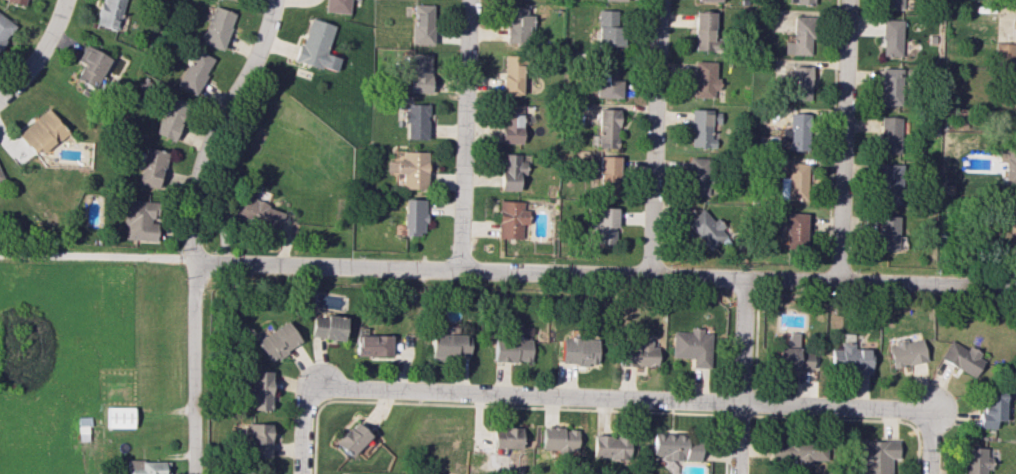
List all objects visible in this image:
building: (614, 0)
building: (708, 0)
building: (19, 1)
building: (801, 1)
building: (894, 4)
building: (337, 6)
building: (110, 13)
building: (422, 23)
building: (517, 24)
building: (218, 27)
building: (4, 28)
building: (604, 28)
building: (704, 30)
building: (800, 36)
building: (892, 37)
building: (317, 45)
building: (1005, 50)
road: (39, 53)
building: (91, 66)
building: (195, 71)
building: (420, 72)
building: (511, 74)
building: (606, 79)
building: (703, 79)
building: (800, 82)
building: (893, 86)
building: (170, 118)
building: (416, 120)
building: (510, 123)
building: (607, 127)
building: (703, 127)
building: (796, 131)
building: (40, 132)
building: (890, 134)
road: (462, 135)
road: (652, 138)
road: (842, 140)
building: (1008, 164)
building: (151, 167)
building: (410, 169)
building: (509, 171)
building: (606, 172)
building: (697, 175)
building: (0, 178)
building: (793, 182)
building: (890, 183)
building: (413, 216)
building: (510, 219)
building: (138, 220)
building: (603, 226)
building: (706, 227)
road: (188, 228)
building: (795, 228)
building: (887, 232)
building: (1012, 232)
road: (95, 255)
road: (604, 274)
building: (327, 326)
building: (792, 338)
building: (277, 341)
building: (373, 345)
building: (446, 345)
building: (691, 346)
building: (510, 349)
building: (577, 350)
building: (905, 352)
building: (636, 353)
building: (961, 358)
road: (739, 376)
building: (258, 390)
road: (636, 398)
building: (991, 410)
building: (119, 416)
road: (305, 420)
building: (506, 437)
building: (258, 438)
building: (351, 438)
building: (555, 438)
road: (928, 444)
building: (610, 446)
building: (673, 447)
building: (803, 451)
building: (876, 456)
building: (973, 460)
building: (146, 467)
building: (238, 472)

